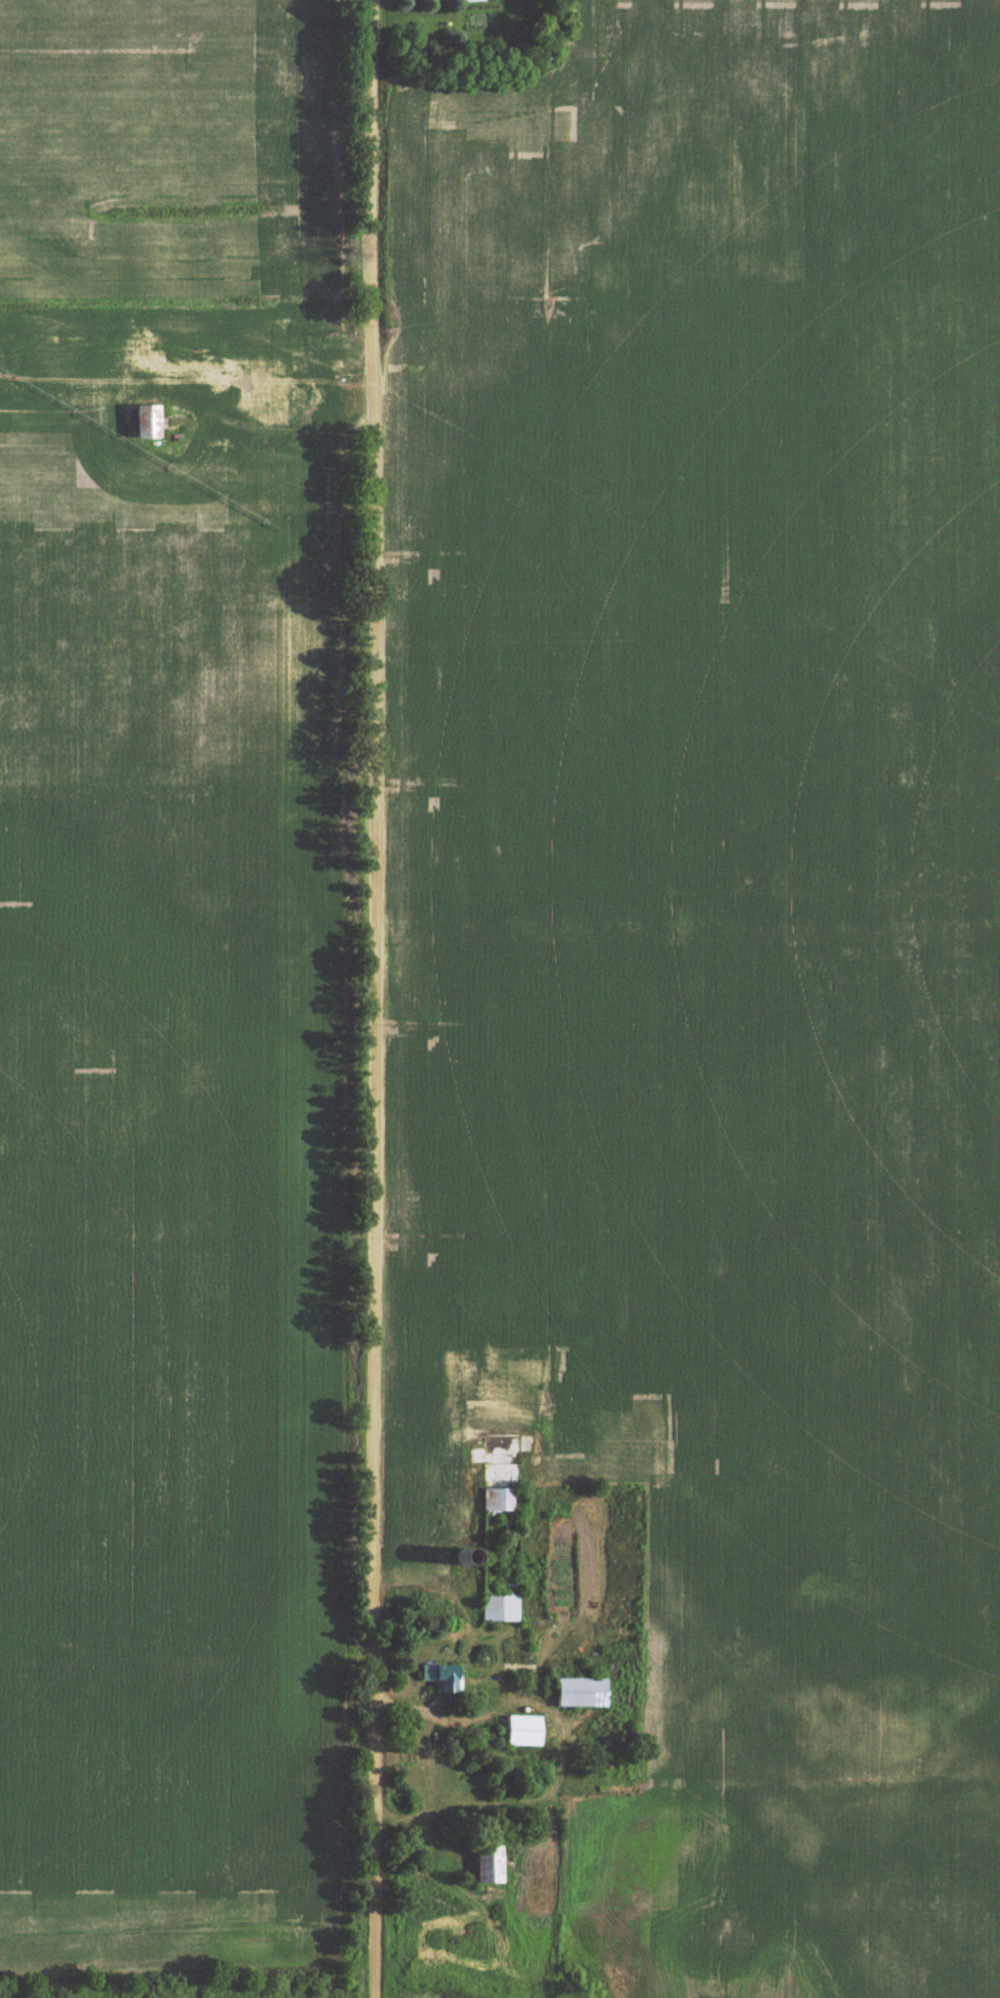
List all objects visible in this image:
building: (473, 0)
building: (152, 358)
building: (208, 374)
building: (268, 406)
building: (149, 422)
road: (378, 999)
building: (501, 1505)
building: (500, 1601)
building: (448, 1677)
building: (582, 1691)
building: (524, 1729)
building: (489, 1863)

